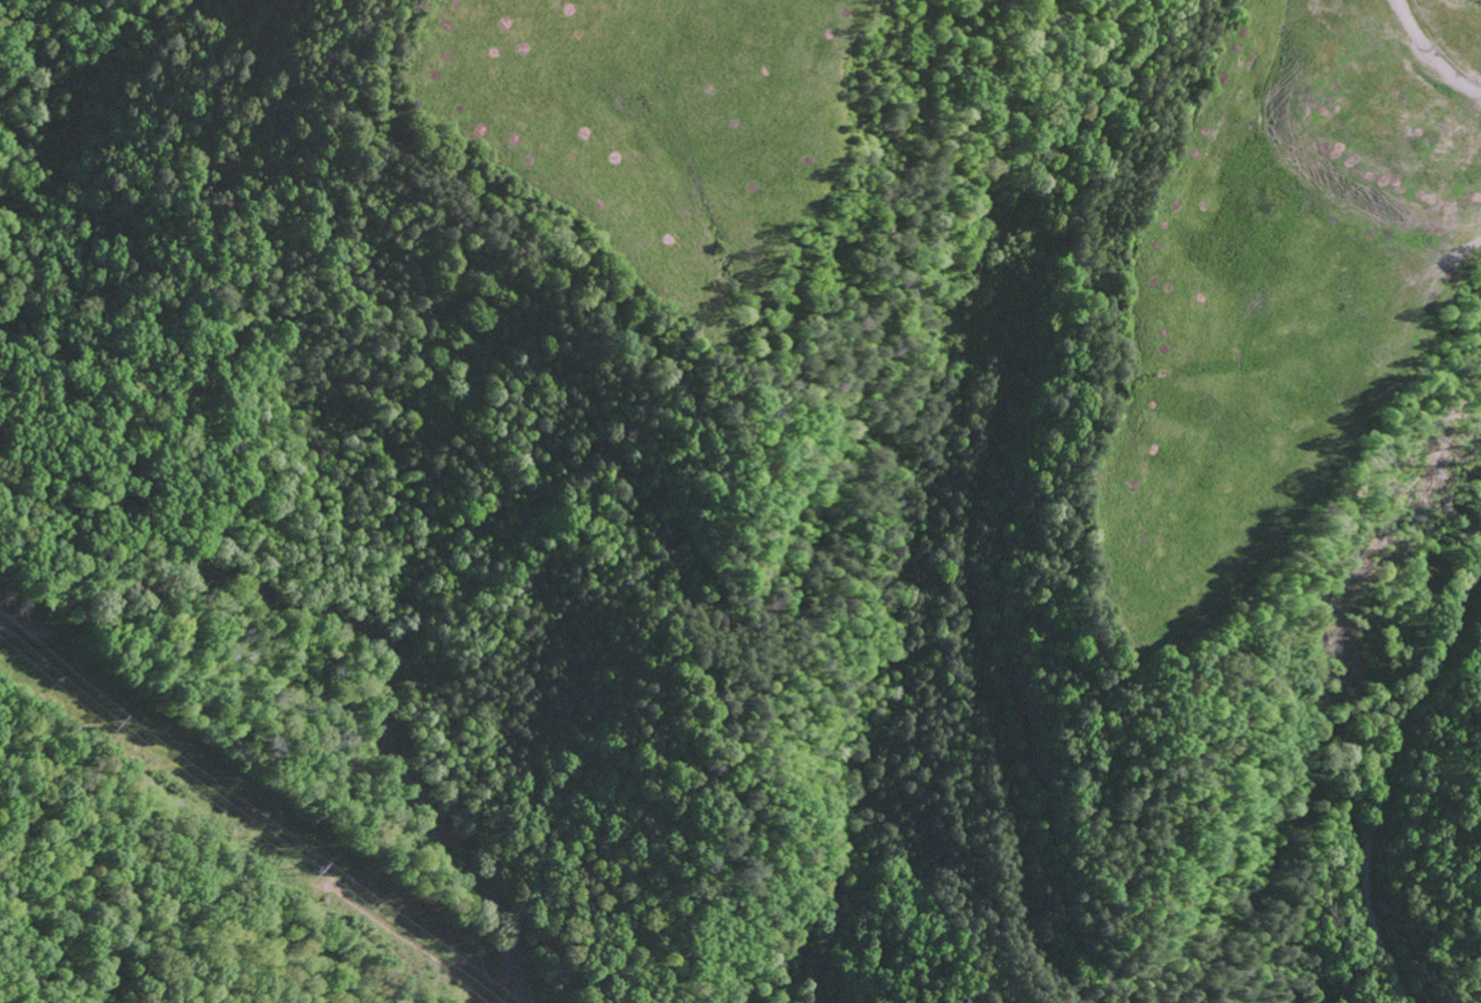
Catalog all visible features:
road: (1434, 53)
power tower: (115, 722)
road: (1398, 727)
power tower: (315, 865)
road: (1385, 954)

